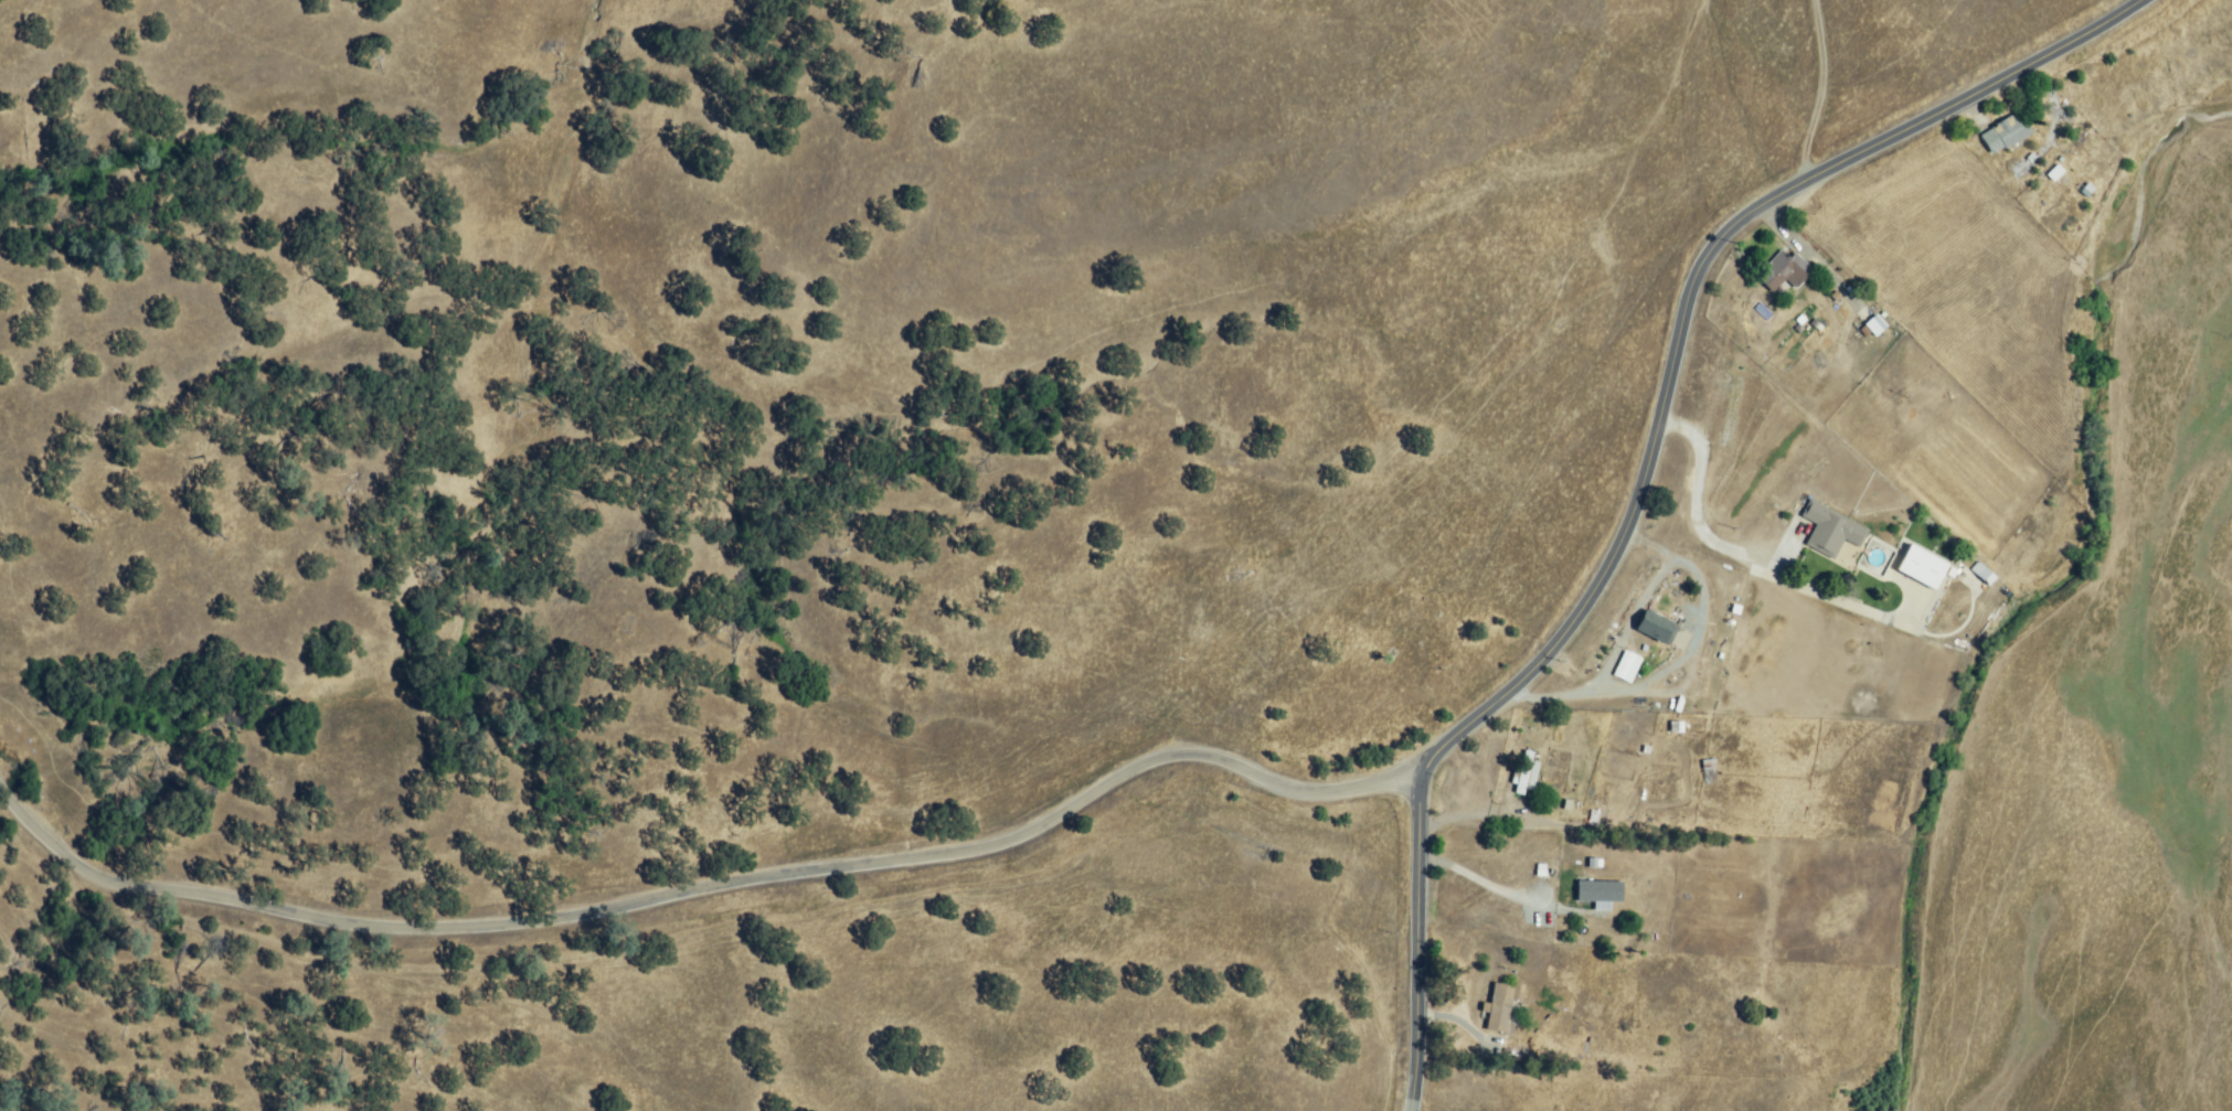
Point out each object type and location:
road: (1817, 93)
building: (2008, 133)
building: (2050, 173)
road: (1810, 260)
building: (1784, 271)
building: (1875, 325)
road: (1648, 464)
building: (1831, 530)
road: (1753, 559)
building: (1922, 568)
building: (1984, 573)
building: (1658, 627)
road: (1679, 661)
building: (1628, 667)
building: (1709, 772)
building: (1526, 773)
road: (1464, 779)
road: (1482, 813)
road: (1471, 879)
road: (705, 890)
building: (1602, 891)
building: (1501, 1006)

